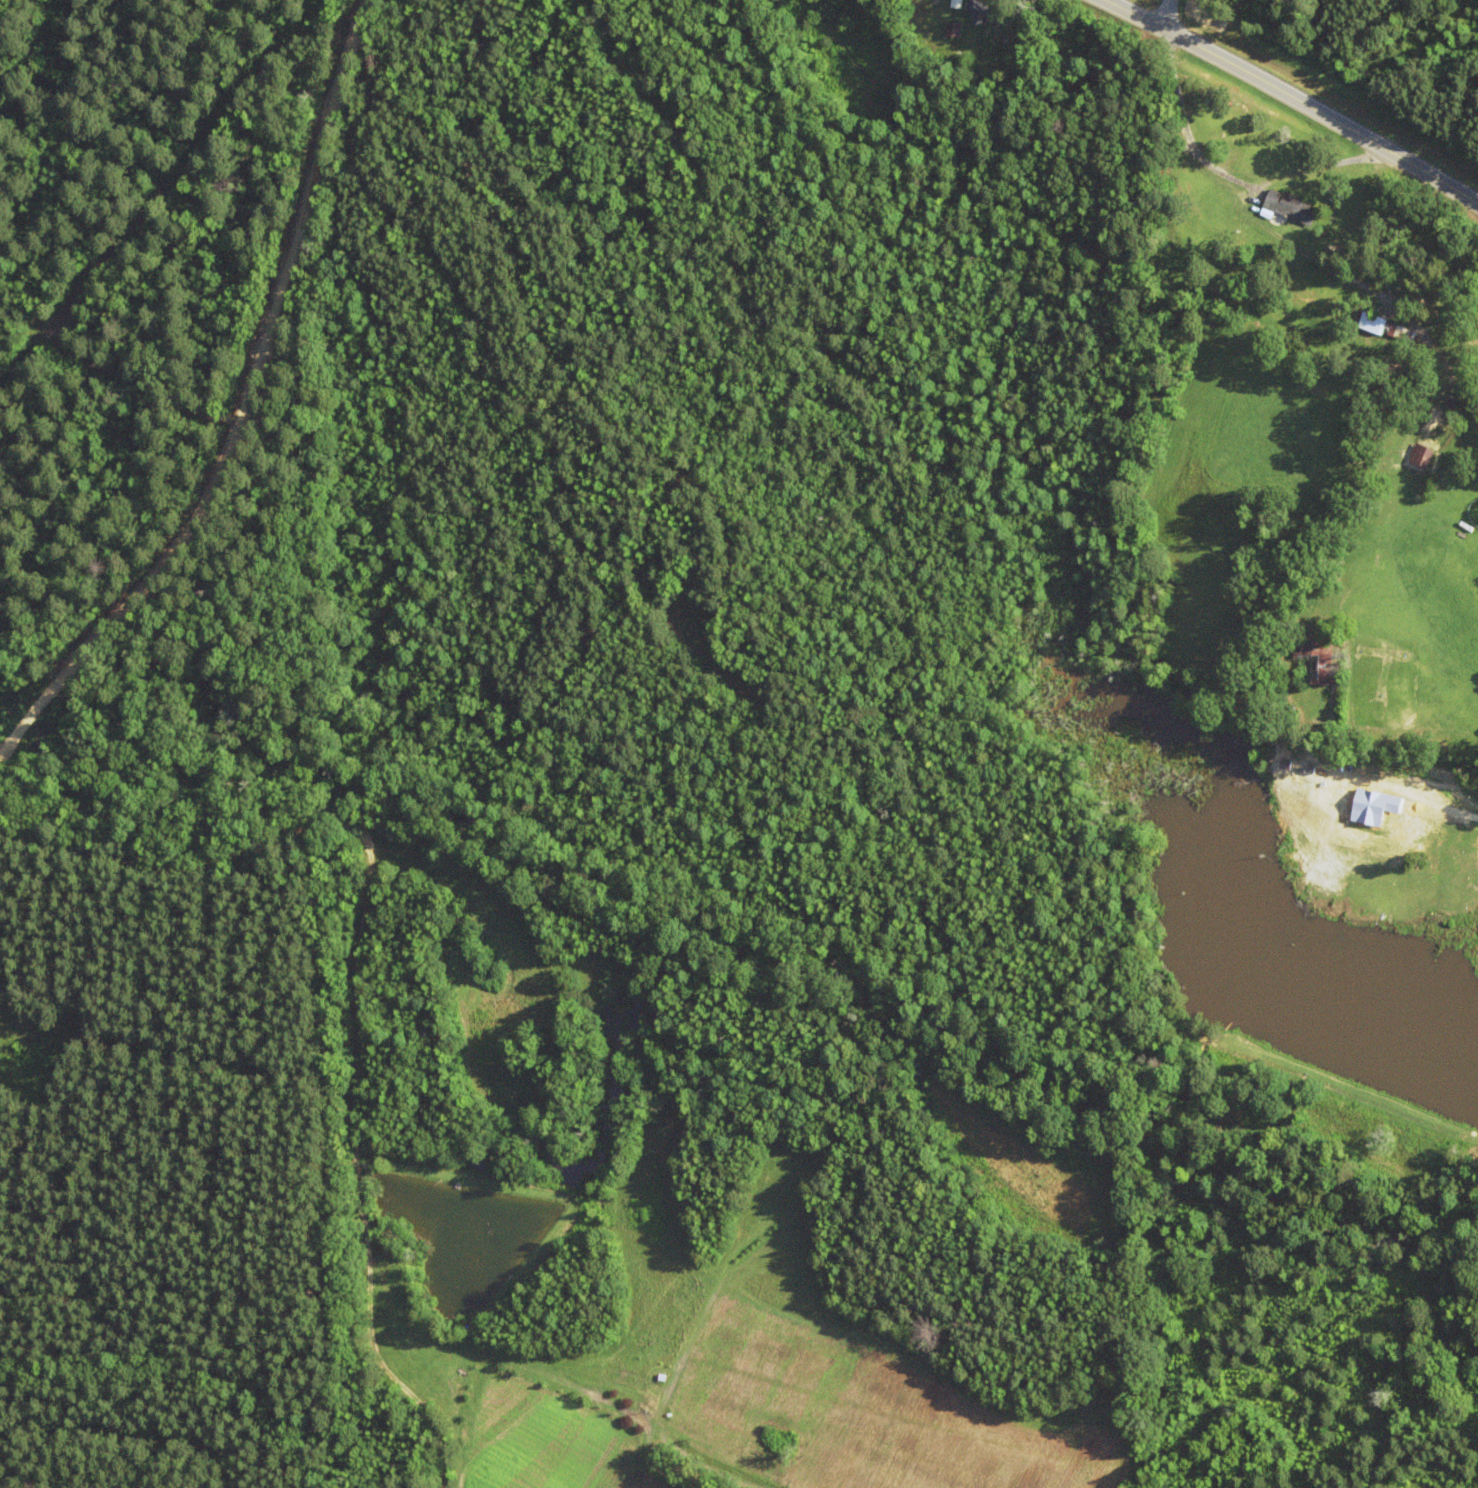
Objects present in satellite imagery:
road: (1165, 15)
road: (1290, 98)
road: (244, 414)

